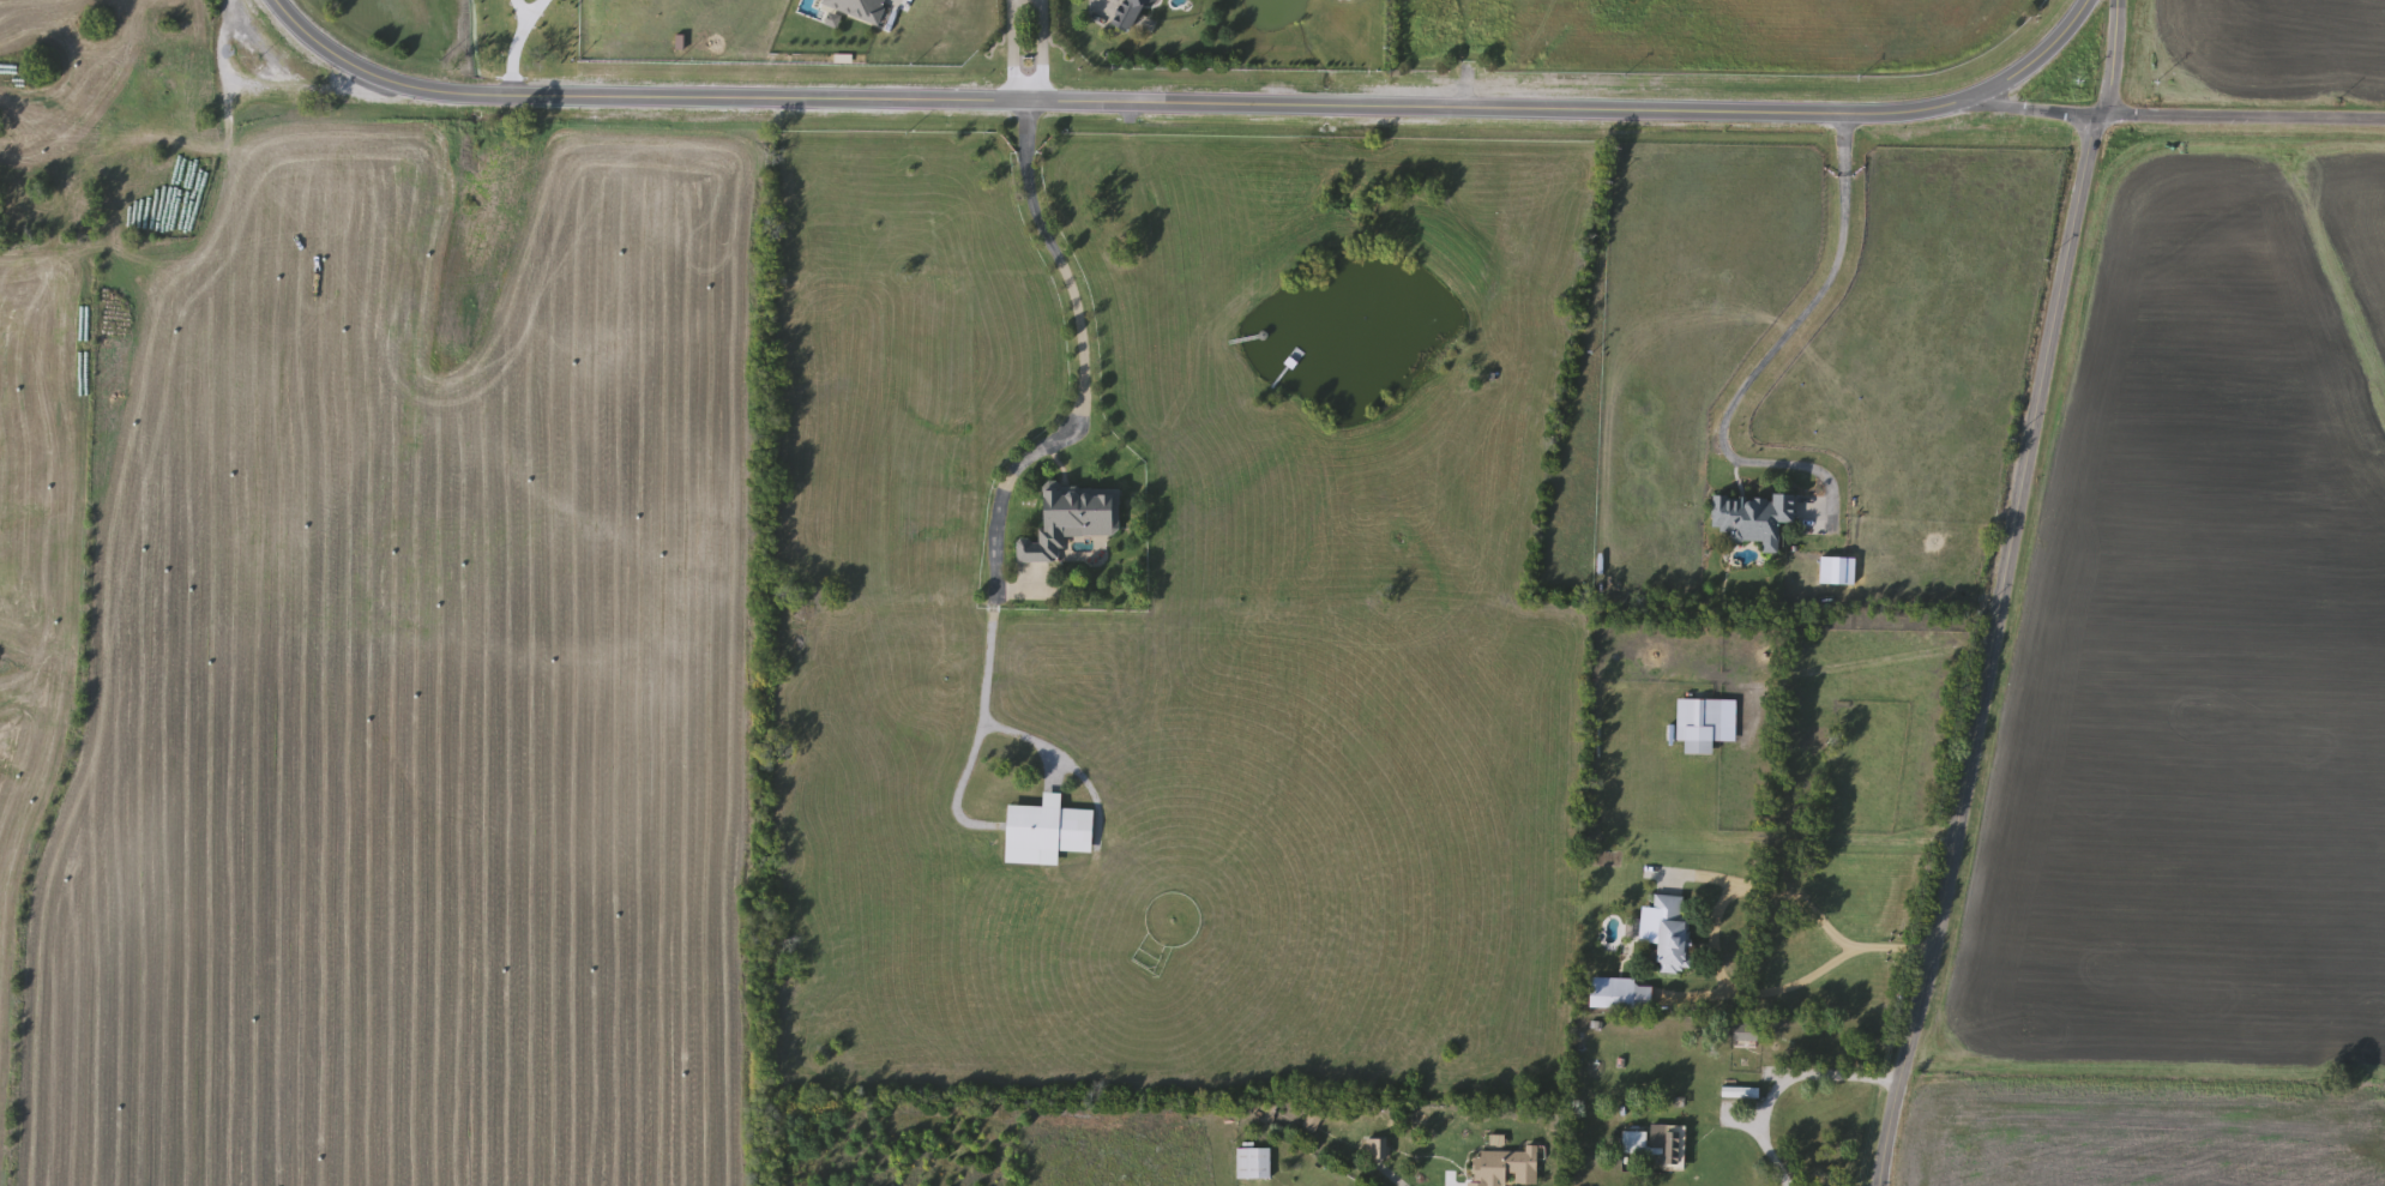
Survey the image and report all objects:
building: (856, 10)
road: (517, 11)
road: (530, 11)
building: (1136, 11)
road: (1010, 52)
road: (1037, 52)
road: (508, 59)
road: (277, 97)
road: (1184, 103)
road: (2173, 121)
road: (1761, 357)
road: (1080, 363)
building: (1754, 518)
building: (1072, 519)
road: (2012, 596)
building: (1698, 714)
road: (978, 729)
road: (1035, 745)
building: (1698, 748)
building: (1042, 832)
road: (1721, 903)
building: (1670, 934)
building: (1612, 994)
building: (1743, 1034)
road: (1777, 1084)
building: (1633, 1144)
building: (1670, 1144)
building: (1374, 1149)
building: (1252, 1164)
building: (1505, 1168)

